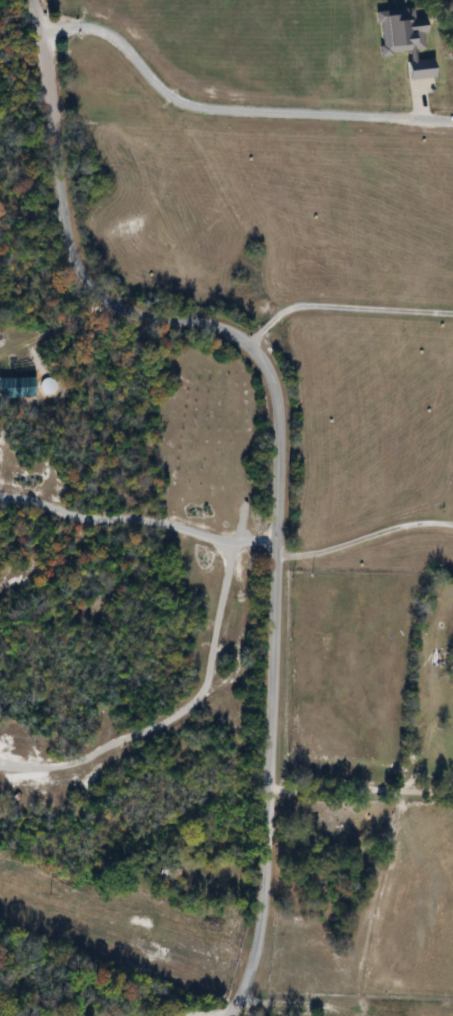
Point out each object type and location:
road: (221, 108)
road: (341, 307)
road: (57, 346)
road: (277, 442)
road: (137, 520)
road: (364, 534)
road: (174, 711)
road: (360, 789)

